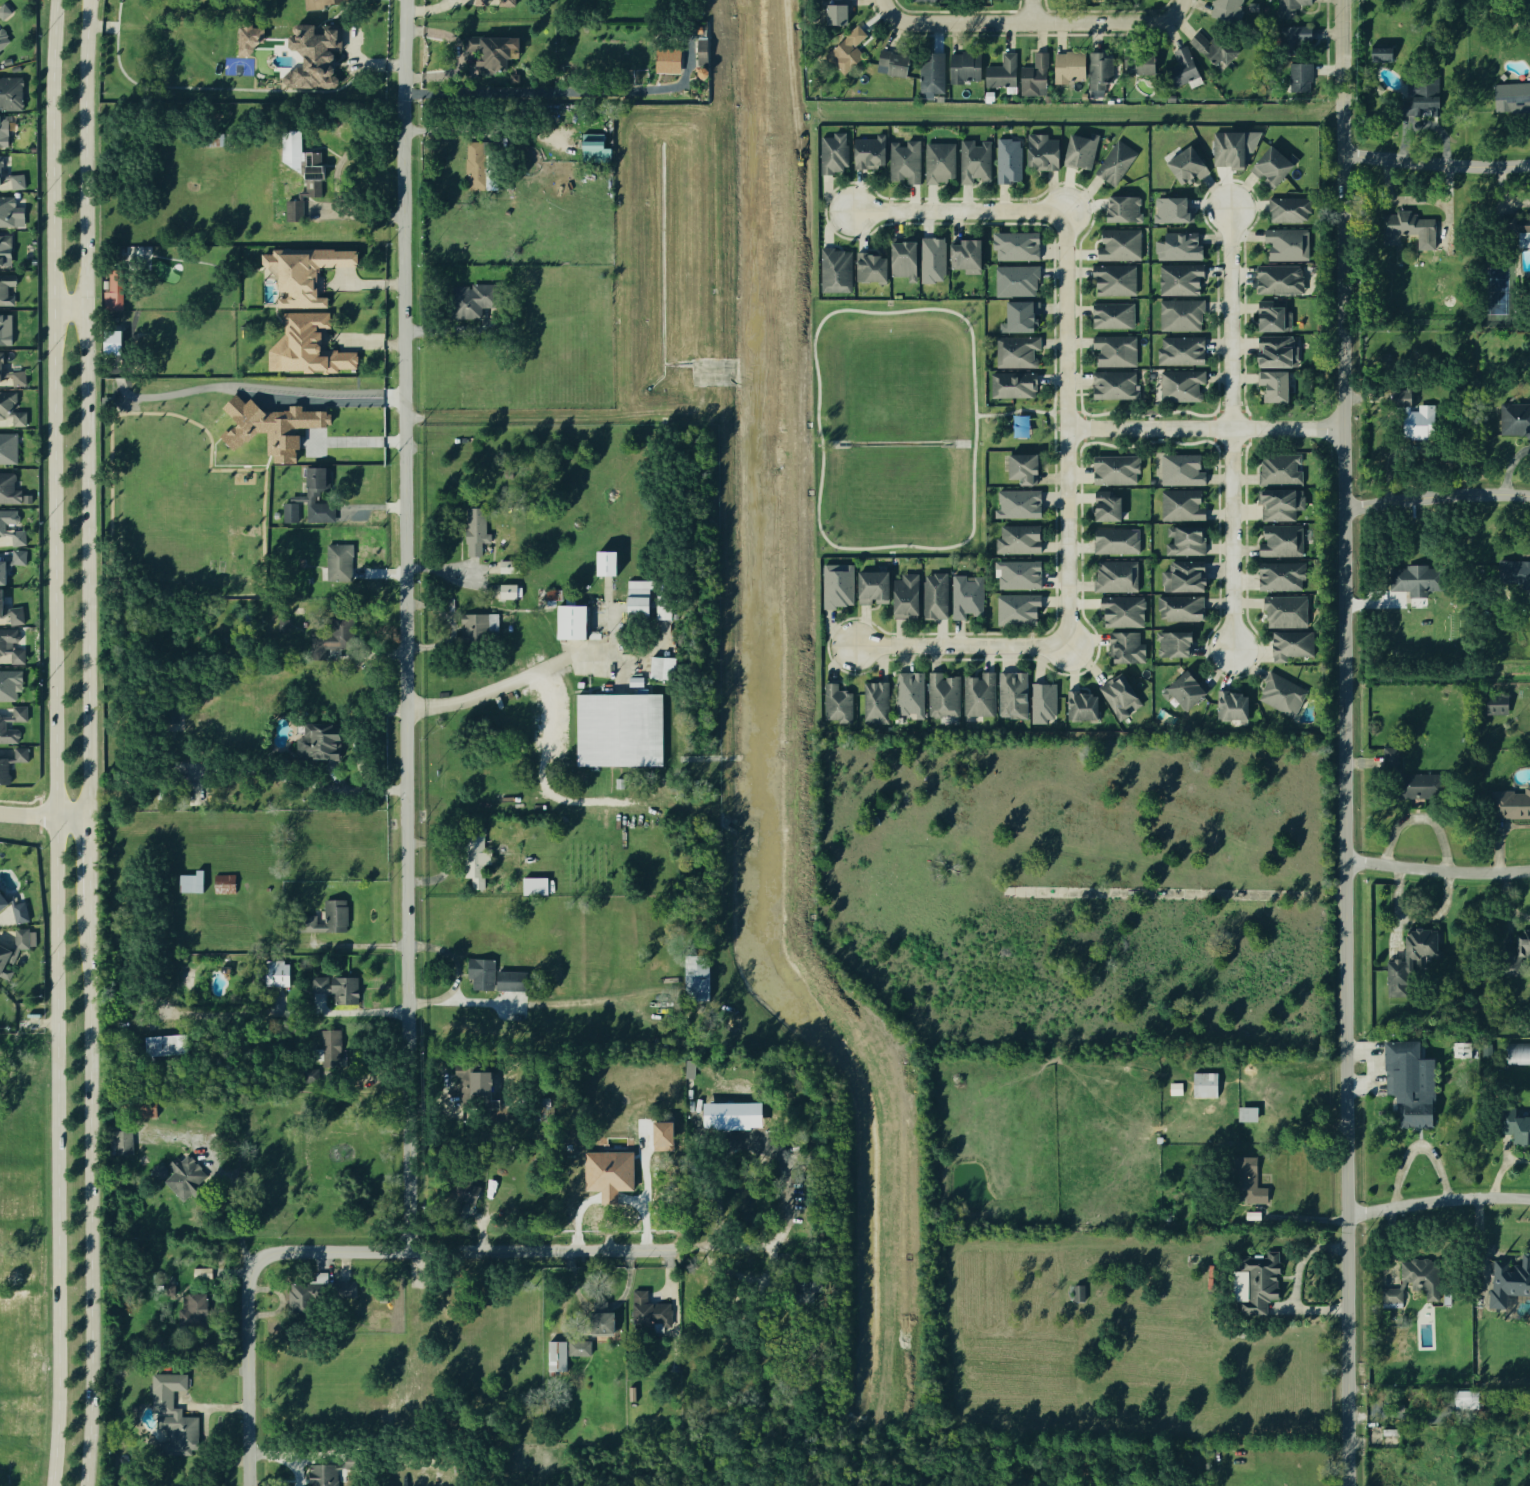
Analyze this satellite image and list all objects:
building: (928, 0)
building: (986, 0)
building: (480, 2)
building: (317, 3)
road: (895, 3)
road: (1182, 3)
building: (505, 4)
building: (1223, 7)
building: (1284, 7)
road: (1037, 10)
building: (4, 11)
building: (836, 12)
road: (1038, 20)
building: (248, 36)
building: (1294, 38)
building: (2, 39)
building: (1374, 48)
building: (847, 50)
building: (701, 51)
building: (1213, 51)
building: (490, 52)
road: (457, 54)
building: (312, 56)
building: (667, 60)
building: (894, 64)
building: (1183, 66)
building: (1069, 67)
building: (1145, 67)
building: (964, 68)
building: (1001, 72)
building: (1098, 72)
building: (931, 75)
building: (1298, 78)
building: (1033, 79)
road: (552, 91)
building: (1414, 91)
building: (10, 92)
building: (1509, 95)
building: (3, 130)
building: (209, 139)
building: (593, 148)
building: (1228, 148)
building: (1080, 150)
building: (869, 151)
building: (1041, 151)
building: (831, 153)
building: (1168, 155)
building: (1007, 159)
road: (1434, 159)
building: (903, 160)
building: (974, 160)
building: (937, 162)
building: (1115, 162)
building: (476, 165)
building: (1187, 165)
building: (1272, 165)
building: (297, 171)
building: (12, 175)
building: (1123, 208)
building: (1288, 208)
road: (356, 210)
building: (1171, 210)
road: (955, 211)
building: (10, 212)
building: (1511, 222)
building: (1407, 227)
building: (1119, 244)
building: (1285, 244)
building: (1016, 245)
building: (1178, 245)
building: (5, 249)
building: (965, 255)
building: (903, 259)
building: (931, 259)
building: (870, 267)
building: (835, 270)
building: (303, 271)
building: (1179, 278)
building: (1114, 279)
building: (1015, 280)
building: (1277, 280)
building: (5, 289)
building: (112, 289)
park: (1494, 289)
building: (471, 299)
road: (68, 306)
building: (1180, 313)
building: (1112, 314)
building: (1018, 316)
building: (1271, 317)
building: (5, 328)
road: (451, 329)
building: (306, 346)
building: (1181, 349)
building: (1015, 350)
building: (1114, 350)
building: (1276, 352)
building: (12, 372)
building: (1014, 384)
building: (1114, 384)
building: (1180, 384)
road: (971, 385)
building: (1272, 386)
road: (1052, 397)
building: (10, 406)
road: (84, 407)
road: (1019, 410)
building: (1413, 415)
building: (1514, 418)
park: (904, 425)
road: (1204, 425)
road: (1230, 425)
building: (271, 426)
building: (1020, 426)
road: (1066, 428)
road: (360, 441)
road: (1052, 441)
building: (7, 447)
building: (1023, 468)
building: (1115, 469)
building: (1181, 469)
building: (1279, 469)
building: (8, 489)
road: (1436, 496)
building: (309, 499)
building: (1279, 503)
building: (1017, 504)
building: (1180, 504)
building: (1106, 506)
building: (12, 527)
building: (474, 531)
building: (1018, 538)
building: (1185, 540)
building: (1280, 540)
building: (1115, 541)
building: (338, 562)
building: (11, 563)
building: (606, 563)
building: (505, 567)
building: (1018, 573)
building: (1116, 575)
building: (1280, 575)
building: (1510, 575)
building: (1184, 576)
building: (1414, 579)
building: (837, 584)
building: (873, 588)
building: (508, 591)
building: (551, 594)
building: (934, 594)
building: (905, 597)
building: (965, 597)
building: (638, 598)
building: (662, 606)
building: (1180, 607)
building: (1017, 609)
building: (1122, 610)
building: (1285, 610)
building: (11, 612)
building: (572, 622)
building: (474, 628)
building: (333, 635)
building: (9, 643)
building: (1173, 643)
building: (1290, 645)
road: (959, 646)
building: (1125, 646)
building: (661, 667)
road: (514, 677)
building: (10, 682)
building: (1184, 690)
building: (910, 693)
building: (1280, 693)
building: (943, 695)
building: (978, 695)
building: (1012, 695)
building: (1119, 696)
building: (1041, 702)
building: (836, 703)
building: (875, 703)
building: (1496, 704)
building: (1231, 705)
building: (1081, 706)
building: (168, 709)
building: (2, 724)
building: (619, 729)
road: (358, 730)
road: (54, 742)
building: (321, 742)
road: (1343, 742)
building: (1375, 758)
building: (11, 760)
building: (1425, 786)
road: (367, 790)
road: (23, 801)
building: (1512, 803)
road: (39, 813)
road: (412, 813)
road: (43, 815)
road: (39, 828)
building: (475, 858)
road: (86, 864)
road: (1436, 869)
building: (190, 881)
building: (223, 883)
building: (534, 885)
building: (13, 907)
building: (324, 917)
road: (356, 946)
building: (12, 950)
building: (1513, 954)
road: (452, 959)
building: (1410, 959)
building: (275, 972)
building: (480, 973)
building: (696, 977)
building: (510, 980)
building: (337, 987)
road: (464, 1002)
road: (365, 1012)
road: (38, 1021)
building: (165, 1044)
building: (331, 1049)
building: (1461, 1049)
building: (1485, 1049)
building: (1518, 1052)
building: (308, 1074)
building: (1409, 1082)
building: (1204, 1083)
building: (472, 1084)
building: (1175, 1088)
building: (142, 1106)
building: (1247, 1113)
building: (732, 1115)
building: (668, 1126)
building: (1515, 1126)
building: (119, 1142)
road: (1501, 1167)
road: (227, 1169)
building: (183, 1175)
building: (597, 1178)
building: (1247, 1180)
building: (462, 1182)
road: (87, 1199)
road: (1437, 1199)
road: (633, 1248)
building: (202, 1272)
building: (1421, 1276)
building: (156, 1278)
road: (572, 1280)
building: (1509, 1280)
road: (627, 1281)
building: (1257, 1281)
building: (168, 1289)
building: (806, 1290)
building: (1078, 1292)
building: (316, 1294)
building: (1390, 1294)
road: (599, 1306)
building: (192, 1309)
building: (648, 1309)
building: (602, 1319)
building: (578, 1347)
building: (556, 1356)
building: (173, 1416)
building: (321, 1474)

